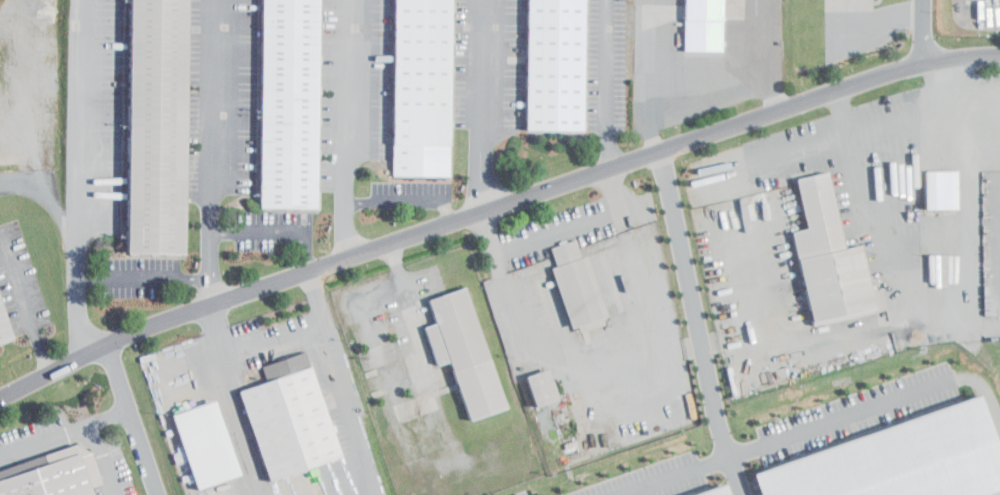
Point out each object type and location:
building: (691, 22)
road: (925, 32)
building: (543, 62)
road: (607, 79)
road: (691, 84)
building: (410, 85)
road: (483, 99)
building: (277, 101)
building: (144, 123)
road: (344, 124)
road: (831, 139)
road: (209, 151)
road: (75, 176)
building: (930, 183)
road: (41, 191)
road: (490, 196)
road: (961, 202)
road: (874, 222)
road: (542, 224)
road: (271, 231)
building: (818, 252)
road: (385, 260)
road: (143, 277)
building: (566, 282)
road: (313, 292)
road: (26, 302)
road: (693, 320)
road: (992, 324)
road: (215, 330)
building: (452, 345)
road: (209, 372)
building: (530, 382)
road: (348, 410)
building: (277, 412)
road: (136, 416)
road: (66, 431)
road: (786, 437)
building: (193, 438)
building: (886, 458)
road: (96, 459)

